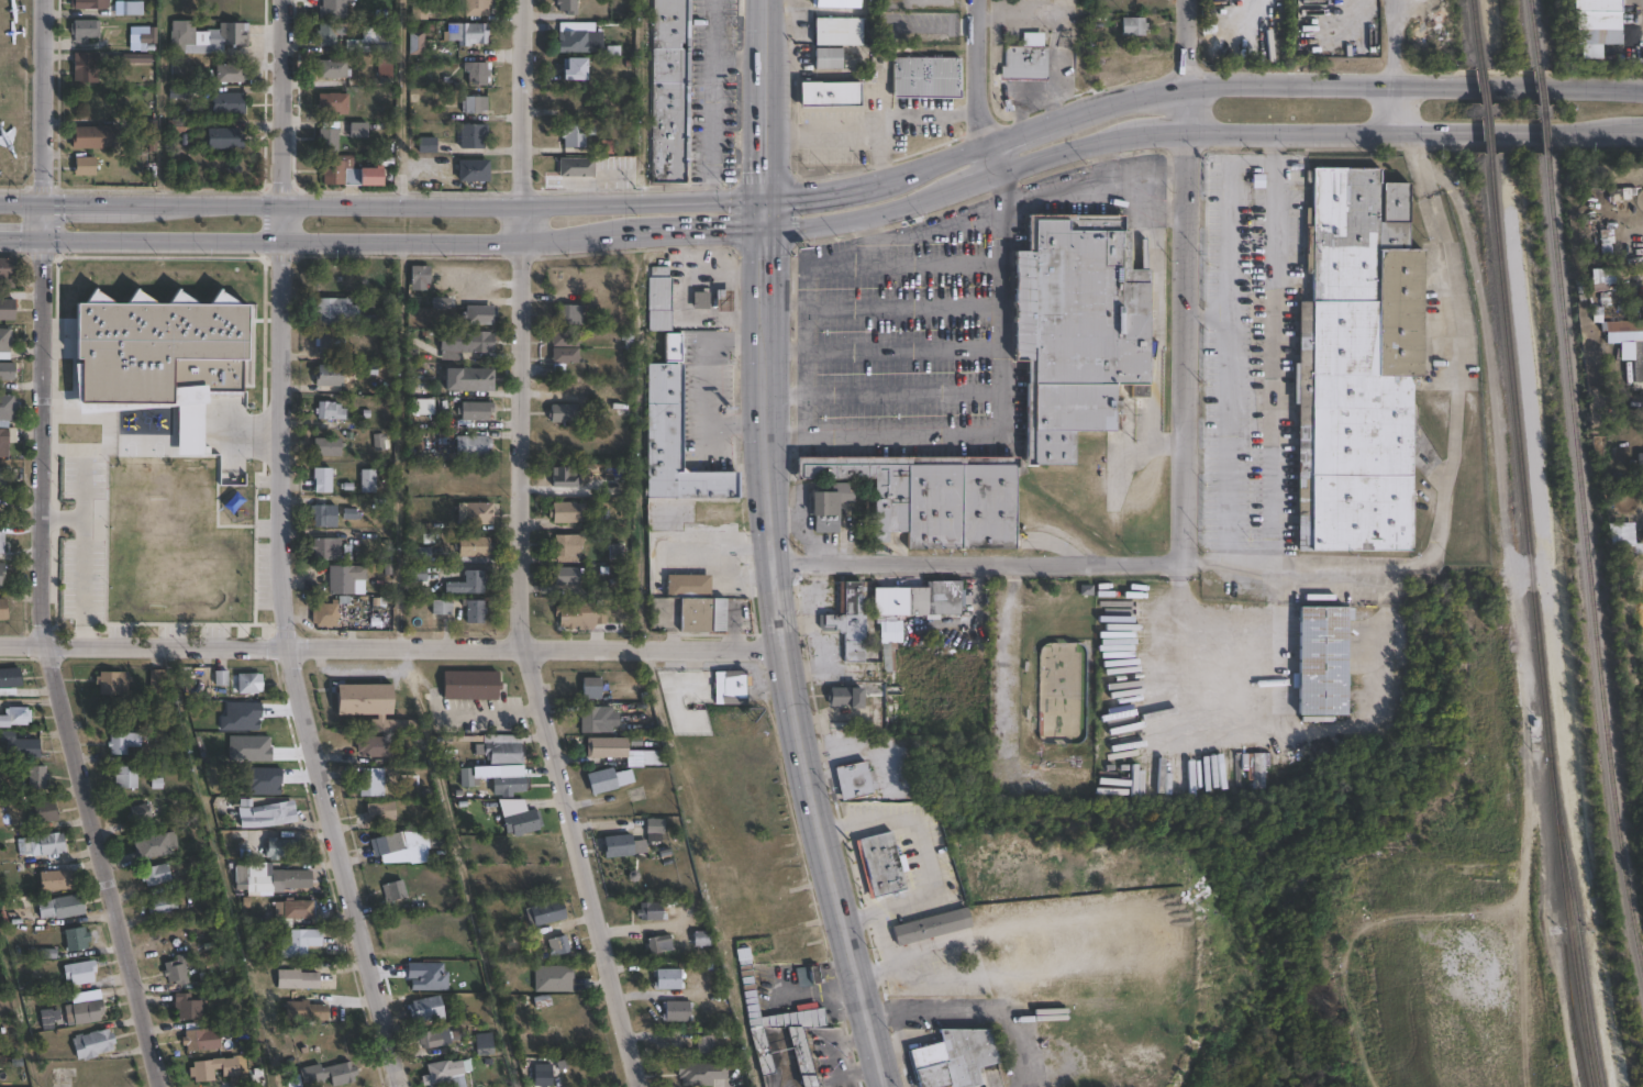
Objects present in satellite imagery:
building: (836, 2)
building: (88, 4)
building: (476, 7)
building: (568, 7)
building: (131, 8)
building: (332, 9)
building: (419, 10)
building: (1590, 22)
building: (1135, 25)
building: (84, 30)
building: (836, 30)
building: (326, 33)
building: (467, 33)
railway: (1473, 33)
railway: (1532, 33)
building: (377, 34)
building: (207, 36)
building: (580, 37)
building: (147, 41)
building: (417, 42)
road: (1187, 43)
building: (828, 56)
building: (136, 58)
building: (1028, 59)
road: (741, 62)
building: (385, 66)
building: (86, 67)
building: (333, 68)
building: (577, 68)
road: (1396, 68)
building: (477, 73)
road: (978, 73)
building: (230, 74)
building: (925, 75)
road: (1416, 86)
building: (669, 91)
road: (1159, 91)
building: (829, 92)
road: (713, 100)
road: (767, 100)
road: (42, 101)
road: (401, 101)
road: (641, 101)
building: (229, 102)
building: (333, 102)
road: (281, 103)
building: (568, 103)
building: (474, 104)
road: (1188, 109)
railway: (1539, 111)
railway: (1480, 112)
road: (926, 117)
road: (1054, 122)
building: (178, 125)
road: (848, 129)
building: (360, 131)
road: (1634, 132)
building: (149, 133)
road: (1157, 133)
building: (575, 134)
building: (474, 135)
building: (95, 136)
road: (1407, 136)
building: (328, 137)
building: (224, 138)
building: (428, 144)
road: (1057, 151)
road: (943, 159)
road: (984, 162)
building: (84, 166)
building: (577, 168)
building: (475, 170)
building: (349, 173)
road: (967, 182)
road: (1091, 184)
road: (996, 188)
road: (839, 192)
traffic signals: (766, 200)
traffic signals: (42, 203)
road: (382, 204)
road: (1168, 214)
road: (856, 218)
road: (41, 221)
road: (712, 230)
traffic signals: (766, 231)
road: (926, 231)
road: (20, 239)
traffic signals: (41, 239)
road: (351, 243)
building: (7, 273)
building: (420, 274)
building: (659, 299)
building: (440, 300)
building: (701, 300)
building: (725, 300)
building: (7, 310)
road: (803, 310)
building: (337, 311)
building: (474, 314)
building: (570, 314)
building: (1080, 329)
building: (566, 337)
road: (1190, 341)
building: (325, 342)
building: (4, 343)
building: (465, 343)
road: (1155, 346)
building: (565, 355)
building: (1351, 358)
building: (1638, 365)
building: (7, 371)
building: (330, 375)
building: (210, 378)
building: (475, 379)
road: (711, 380)
building: (625, 408)
building: (8, 409)
building: (330, 411)
building: (477, 411)
building: (146, 413)
building: (563, 414)
building: (189, 420)
road: (999, 433)
road: (249, 434)
building: (7, 439)
building: (378, 441)
building: (676, 443)
building: (473, 446)
building: (328, 447)
building: (144, 462)
road: (1451, 463)
building: (1640, 470)
building: (186, 475)
building: (9, 478)
building: (565, 478)
building: (322, 479)
building: (368, 480)
road: (81, 489)
building: (144, 489)
building: (934, 497)
building: (832, 500)
road: (19, 503)
building: (567, 512)
building: (476, 513)
building: (710, 513)
building: (324, 515)
road: (19, 526)
building: (2, 542)
building: (475, 546)
building: (568, 547)
building: (326, 548)
road: (522, 551)
road: (1205, 551)
road: (1248, 551)
railway: (1592, 552)
building: (420, 555)
road: (81, 559)
road: (987, 567)
building: (418, 574)
building: (171, 576)
building: (567, 576)
road: (398, 578)
building: (1, 579)
building: (346, 579)
building: (468, 584)
building: (689, 584)
building: (920, 600)
building: (442, 608)
building: (3, 610)
building: (475, 611)
building: (576, 614)
building: (324, 615)
building: (704, 615)
building: (850, 621)
railway: (1534, 623)
road: (391, 647)
road: (784, 648)
building: (889, 651)
road: (287, 653)
building: (1315, 659)
road: (51, 669)
building: (9, 678)
building: (156, 681)
building: (112, 684)
building: (247, 684)
building: (471, 686)
building: (592, 688)
building: (732, 688)
building: (847, 698)
road: (1242, 698)
building: (371, 706)
building: (15, 718)
building: (591, 719)
road: (1346, 725)
building: (122, 743)
building: (20, 746)
building: (380, 747)
building: (607, 748)
building: (504, 754)
building: (654, 758)
building: (34, 776)
building: (126, 777)
building: (469, 777)
building: (609, 780)
building: (371, 781)
building: (856, 781)
building: (512, 785)
building: (43, 811)
building: (266, 812)
building: (380, 812)
building: (138, 813)
building: (522, 822)
building: (657, 827)
building: (41, 843)
building: (157, 845)
building: (389, 845)
building: (619, 846)
building: (277, 847)
road: (924, 855)
building: (884, 864)
building: (156, 875)
building: (55, 878)
building: (269, 879)
building: (395, 891)
building: (62, 906)
building: (162, 907)
building: (295, 908)
building: (651, 909)
building: (548, 910)
building: (929, 927)
railway: (1579, 928)
building: (76, 938)
building: (702, 938)
building: (300, 942)
building: (558, 942)
building: (660, 943)
building: (176, 967)
building: (79, 970)
building: (801, 977)
building: (298, 978)
building: (668, 978)
building: (542, 998)
building: (187, 1006)
building: (428, 1008)
building: (306, 1010)
building: (678, 1010)
building: (84, 1012)
road: (973, 1014)
building: (49, 1018)
building: (782, 1025)
building: (436, 1036)
building: (201, 1039)
building: (92, 1043)
building: (484, 1043)
building: (704, 1043)
road: (890, 1047)
road: (904, 1051)
building: (957, 1057)
building: (444, 1069)
building: (201, 1071)
building: (701, 1072)
building: (329, 1073)
building: (544, 1074)

